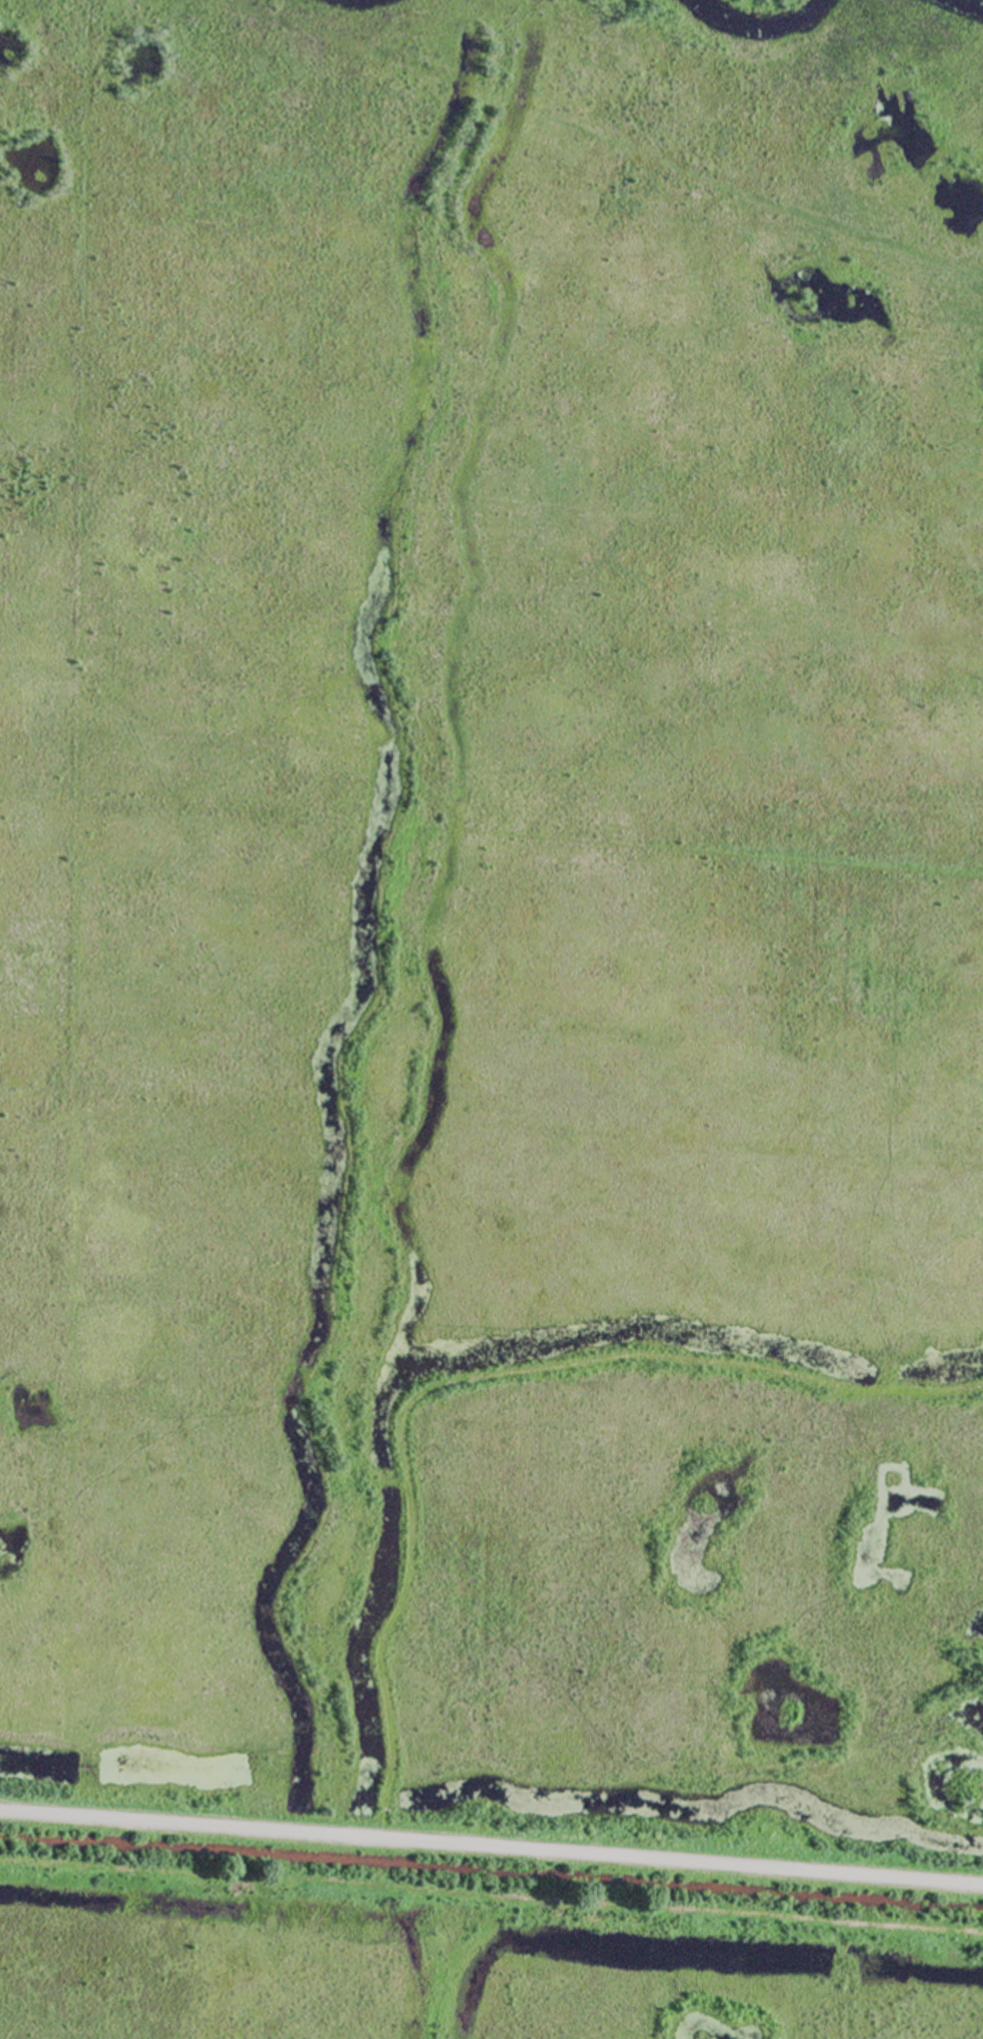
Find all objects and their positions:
road: (491, 1850)

